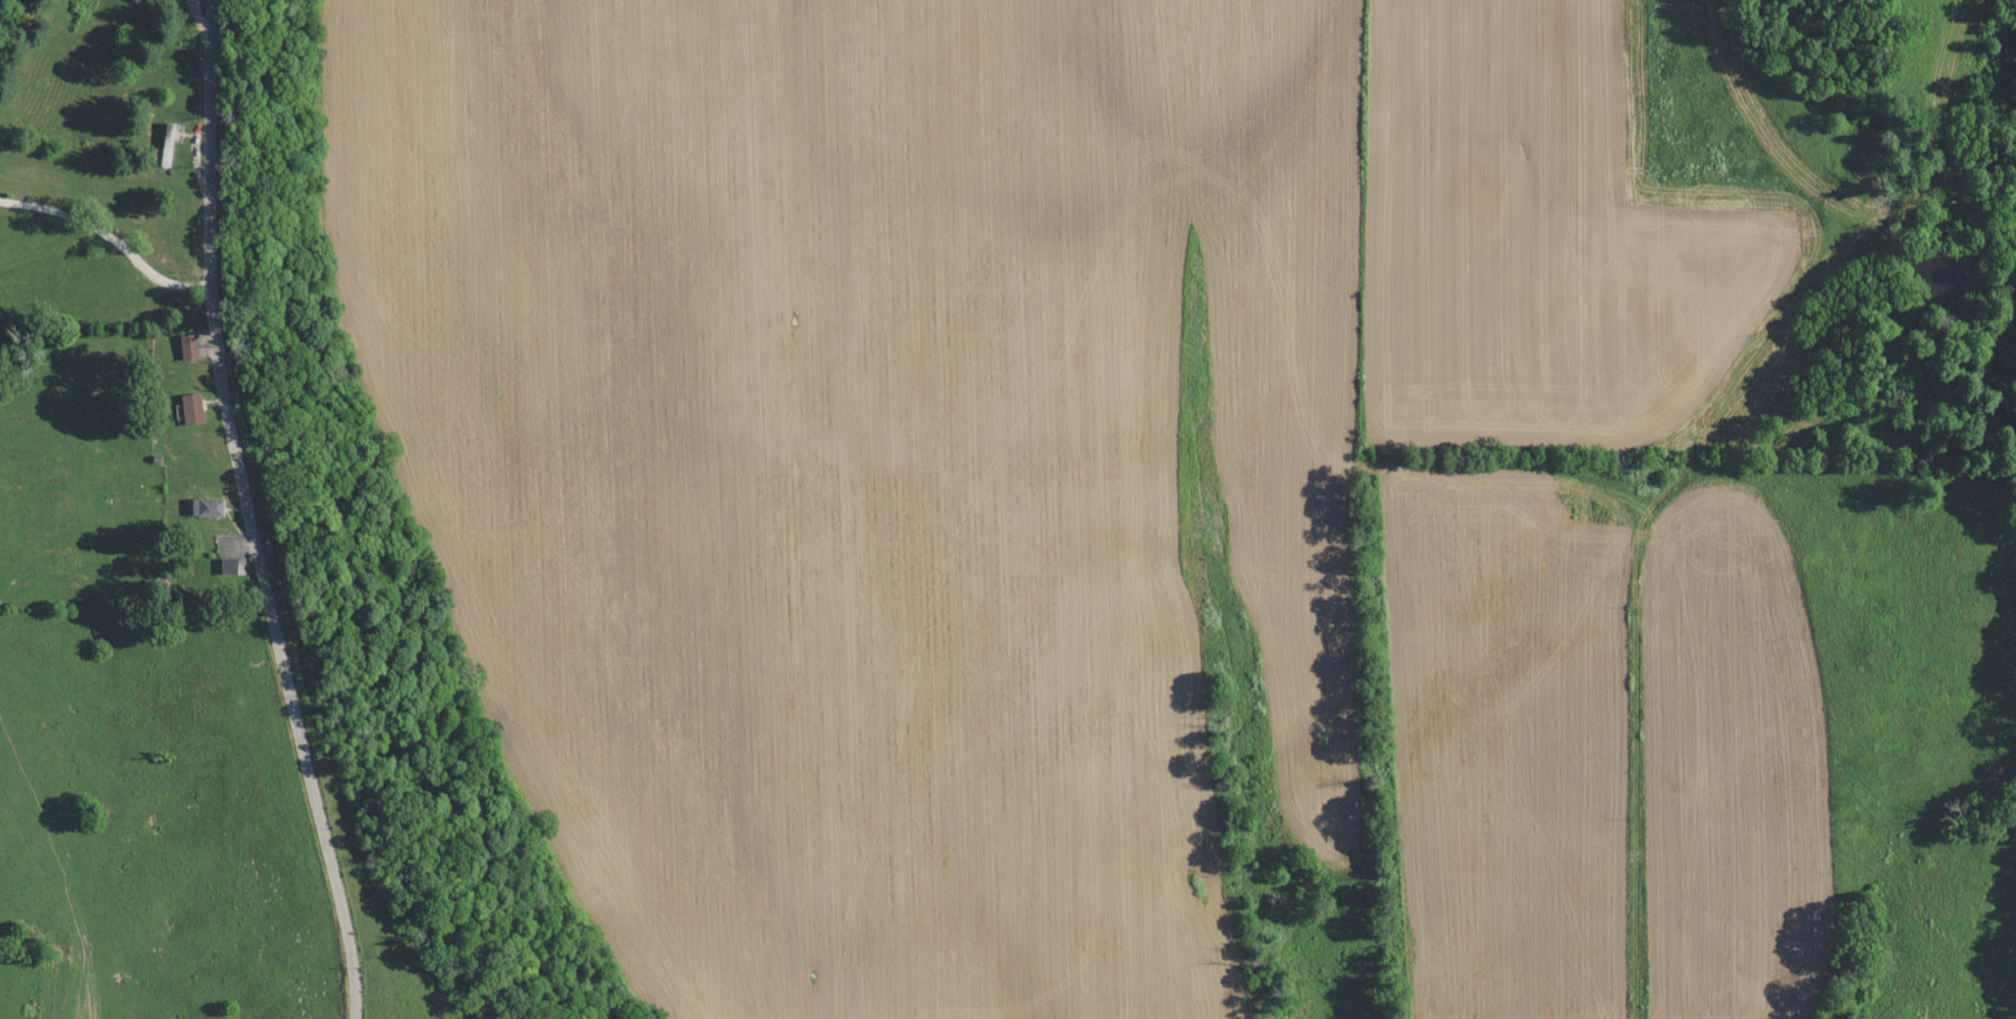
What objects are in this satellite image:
road: (110, 237)
building: (185, 348)
building: (189, 410)
building: (204, 508)
road: (246, 513)

